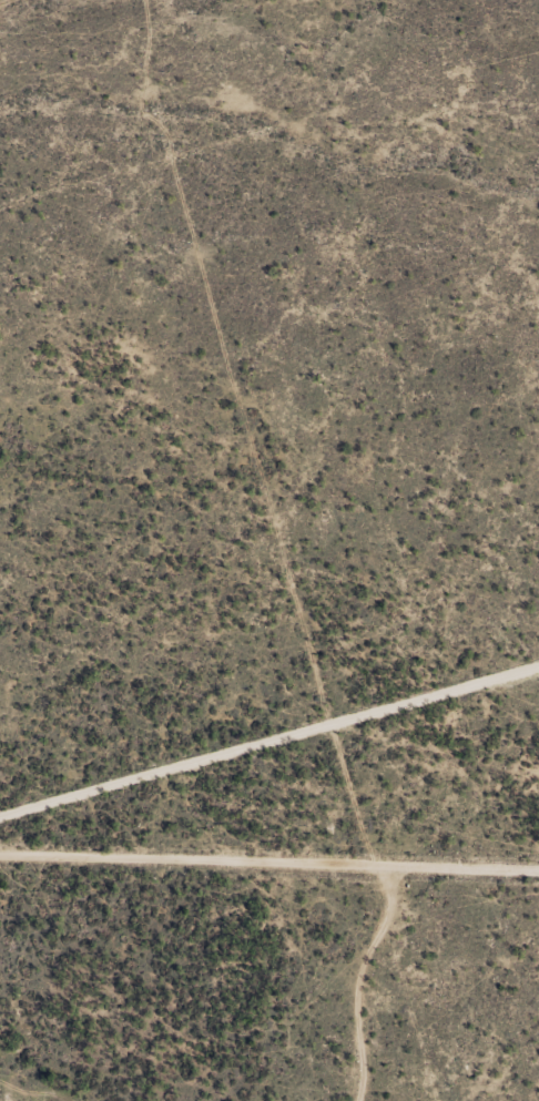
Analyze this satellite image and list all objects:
road: (269, 862)

